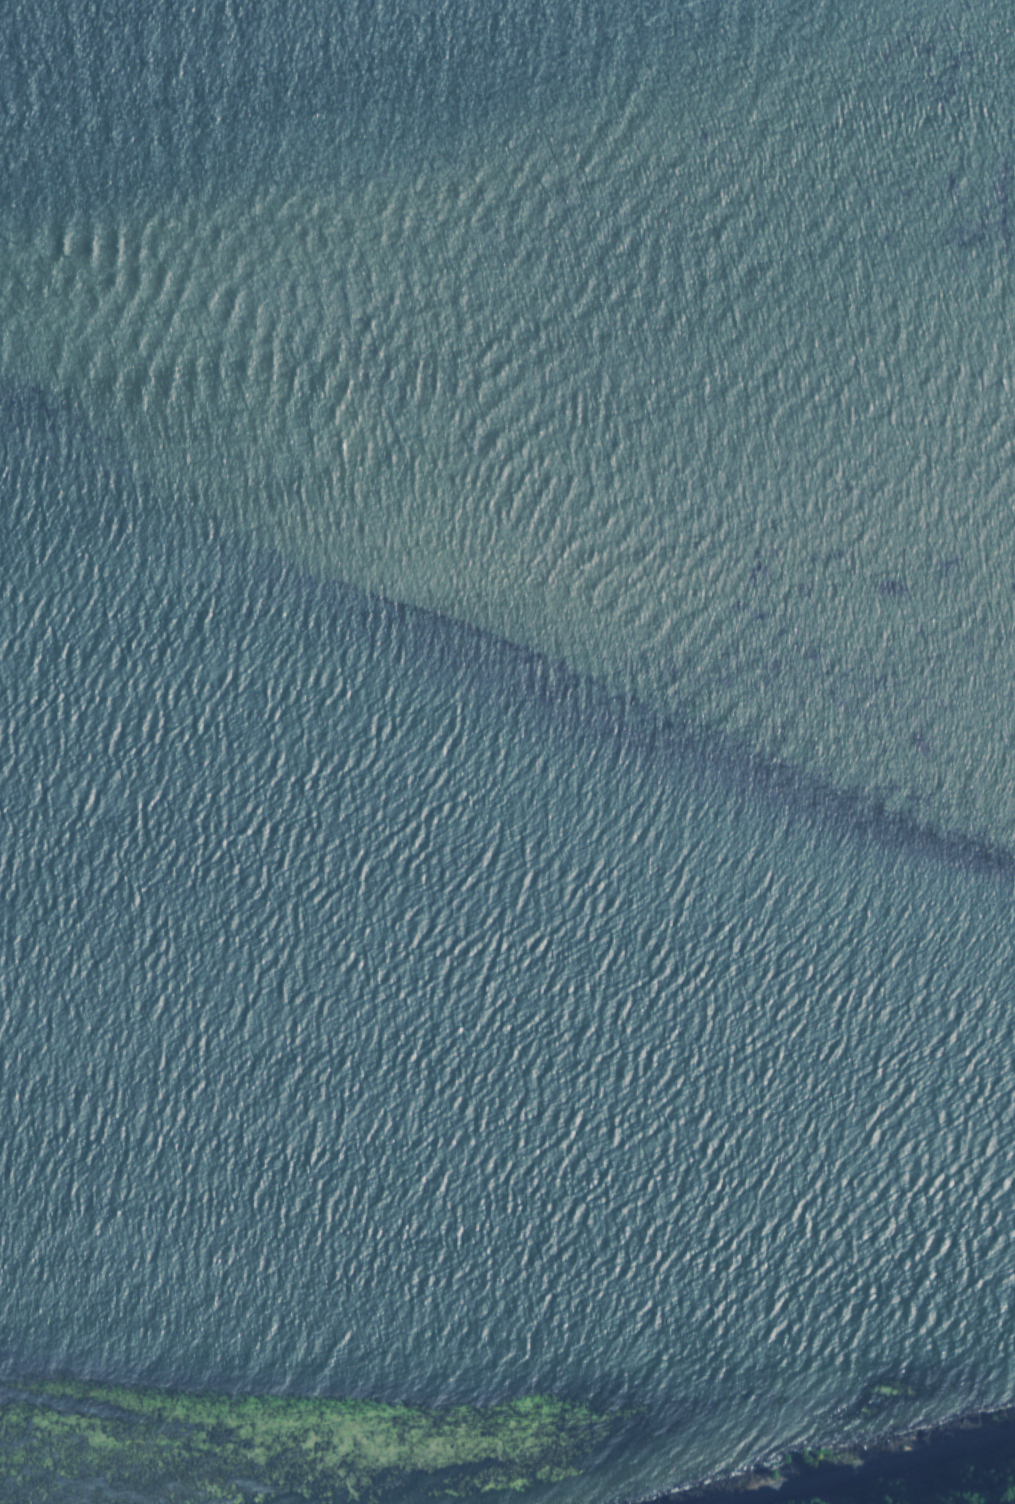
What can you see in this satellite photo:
railway: (887, 1471)

